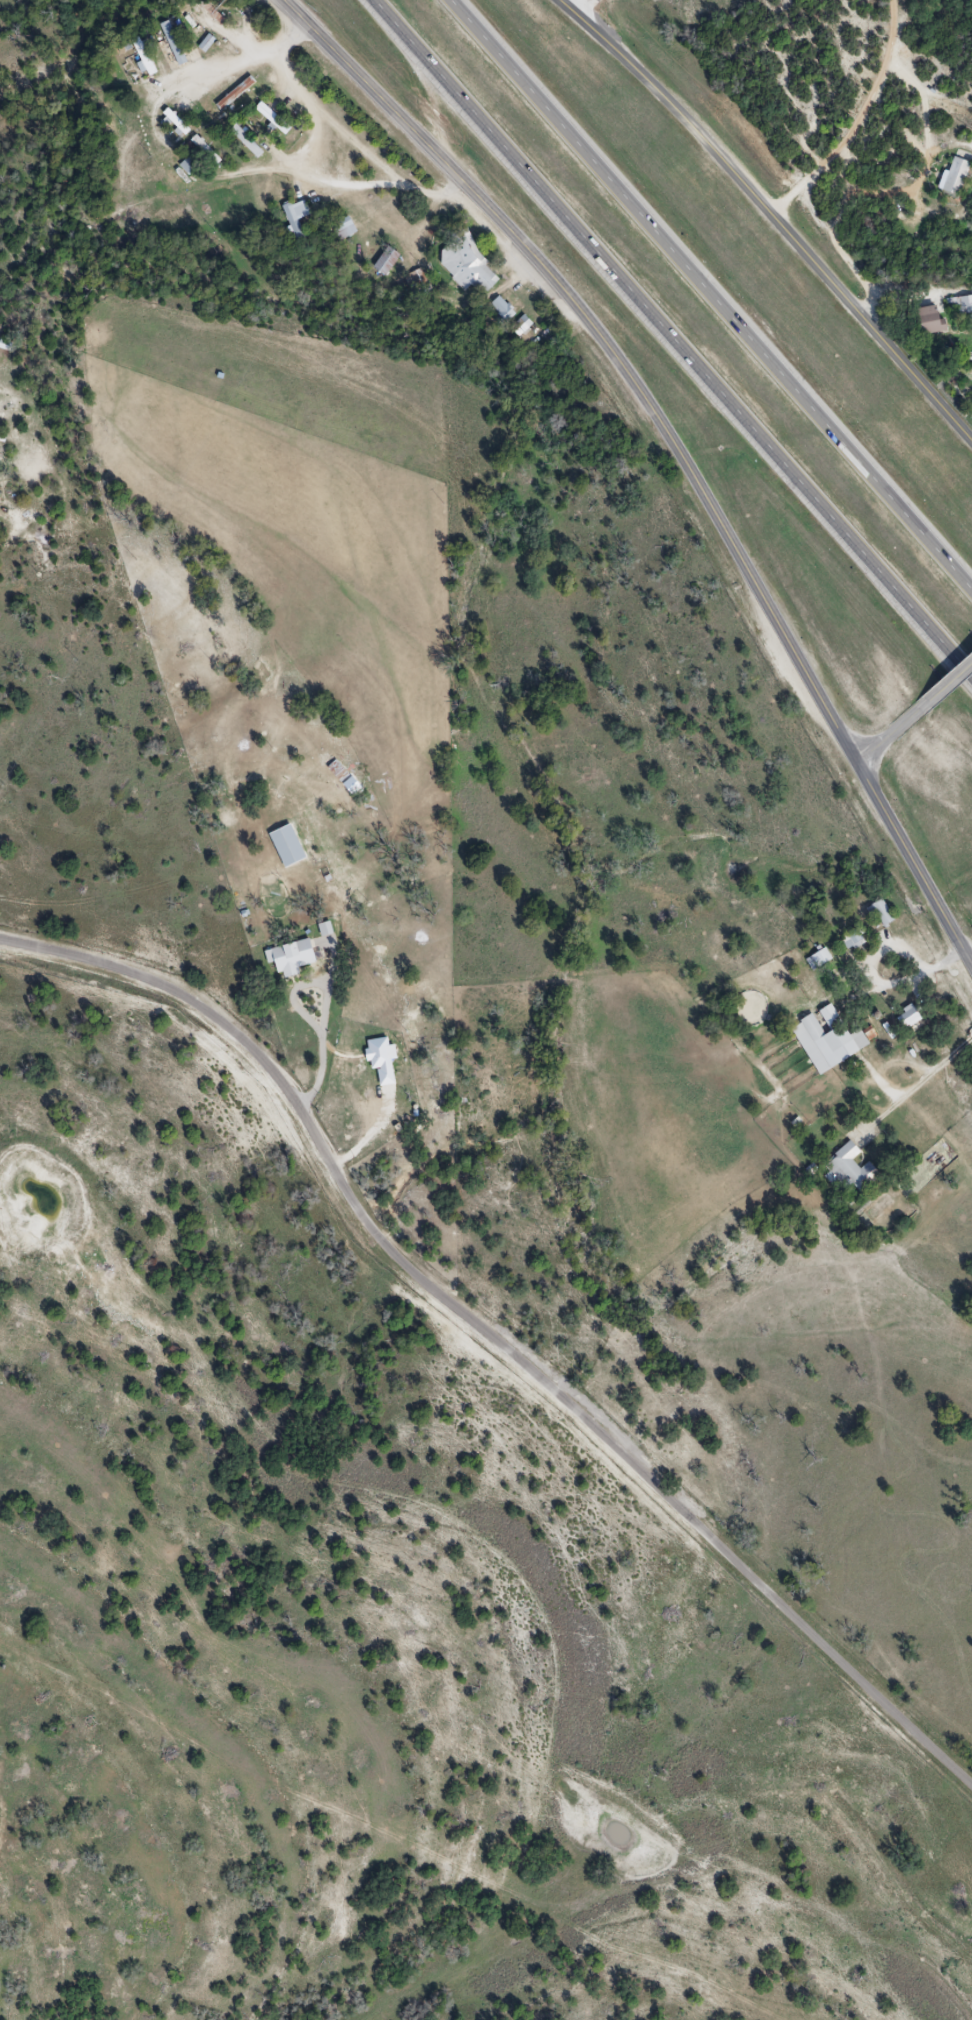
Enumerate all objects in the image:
road: (591, 11)
building: (206, 43)
building: (143, 56)
road: (315, 105)
road: (859, 119)
road: (365, 147)
building: (207, 156)
building: (188, 165)
building: (954, 175)
road: (192, 183)
road: (772, 214)
building: (296, 216)
building: (344, 228)
building: (386, 261)
building: (467, 264)
building: (417, 284)
road: (708, 295)
building: (959, 305)
building: (503, 308)
building: (931, 320)
building: (521, 325)
road: (670, 340)
road: (612, 349)
road: (945, 684)
road: (887, 736)
building: (287, 846)
road: (913, 862)
building: (881, 914)
building: (853, 940)
building: (290, 958)
road: (926, 975)
building: (908, 1018)
building: (827, 1040)
road: (915, 1085)
building: (849, 1171)
road: (490, 1337)

